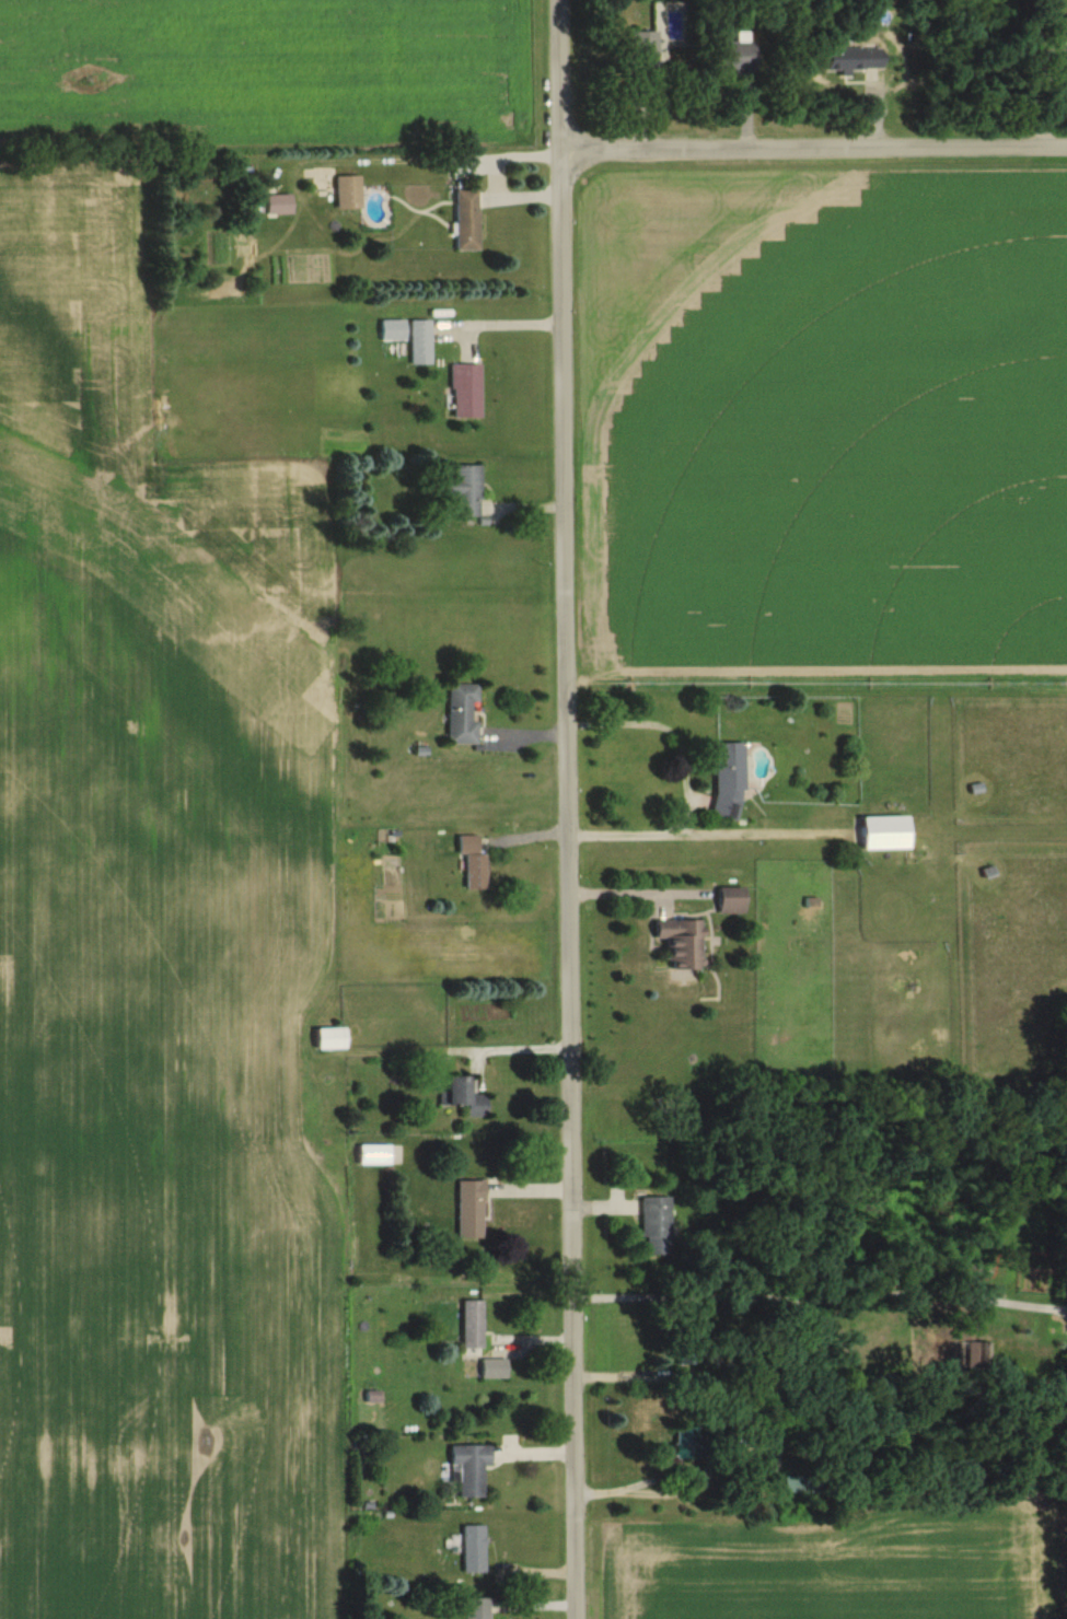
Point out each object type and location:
building: (1065, 26)
building: (645, 49)
building: (734, 58)
building: (855, 59)
road: (816, 152)
building: (348, 193)
building: (278, 205)
building: (466, 220)
road: (511, 327)
building: (392, 330)
building: (420, 341)
building: (465, 391)
building: (461, 492)
building: (462, 714)
road: (685, 780)
building: (728, 781)
road: (569, 808)
building: (885, 834)
building: (472, 863)
building: (731, 901)
building: (681, 944)
building: (329, 1039)
building: (465, 1097)
building: (379, 1155)
building: (469, 1210)
building: (656, 1226)
building: (472, 1329)
building: (494, 1370)
road: (630, 1373)
building: (686, 1443)
building: (468, 1469)
building: (799, 1486)
road: (685, 1492)
building: (473, 1550)
crop: (833, 1574)
building: (476, 1609)

